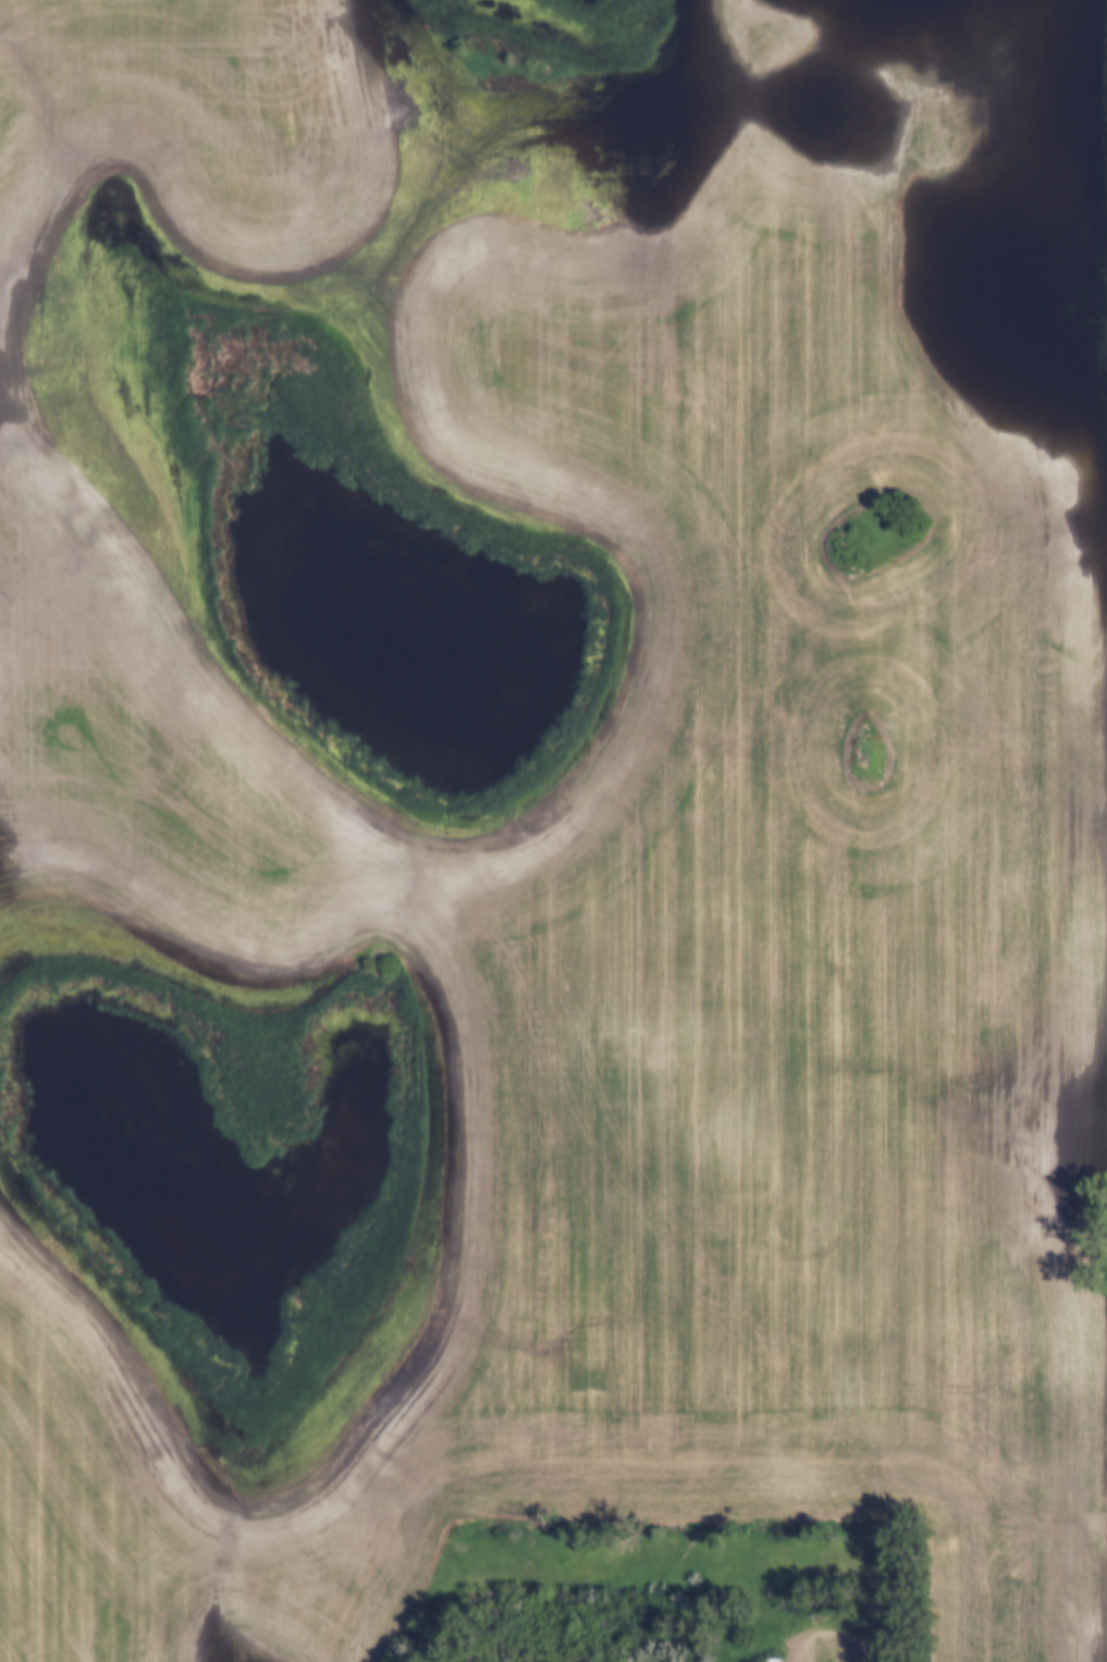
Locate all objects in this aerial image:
building: (767, 1659)

